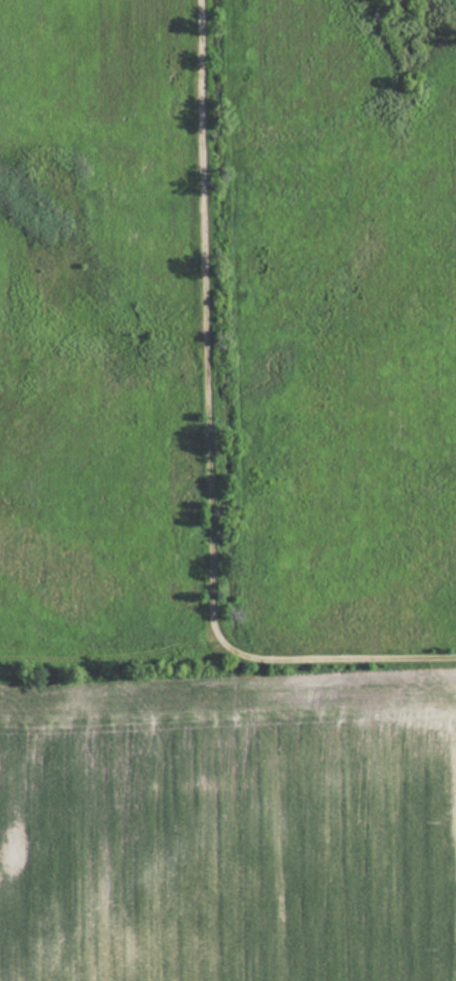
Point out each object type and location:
road: (209, 438)

